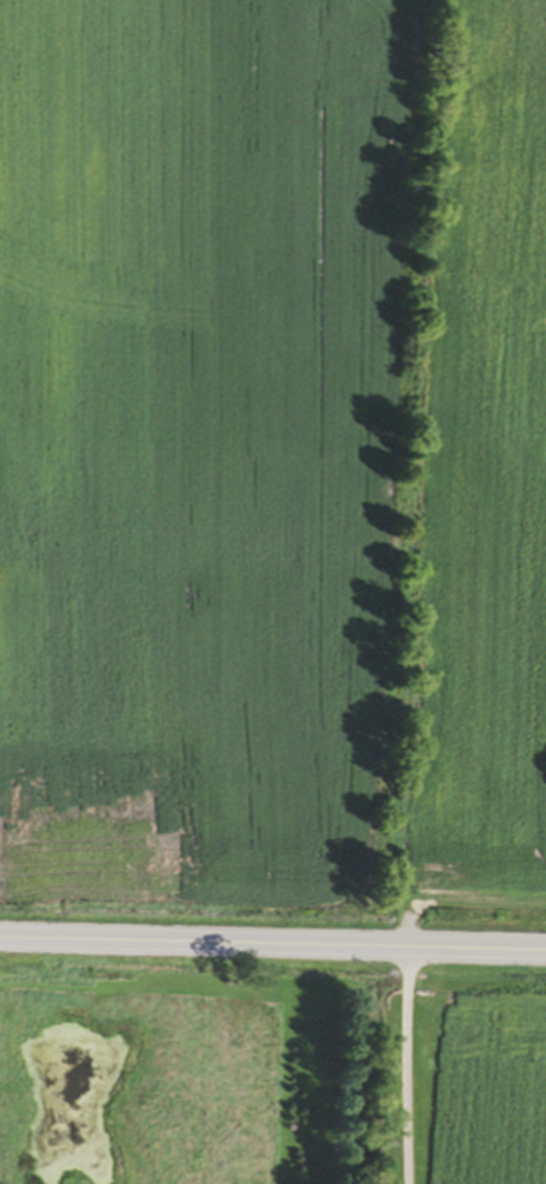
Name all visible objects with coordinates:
road: (272, 944)
road: (404, 1065)

